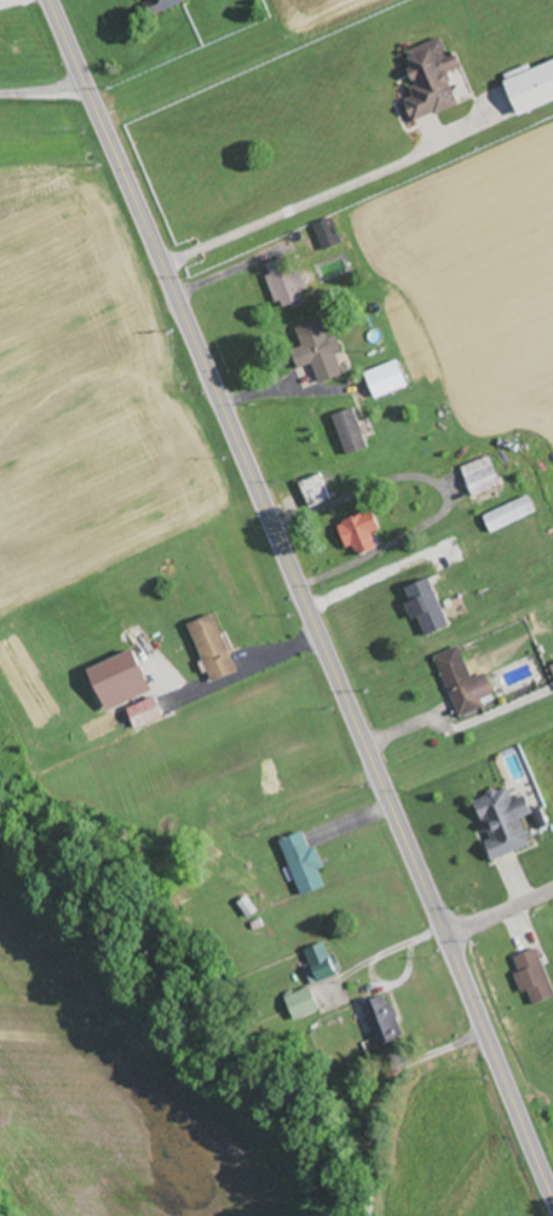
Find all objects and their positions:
building: (165, 4)
building: (437, 79)
building: (532, 87)
road: (53, 126)
road: (300, 206)
building: (287, 281)
building: (317, 351)
building: (387, 379)
building: (351, 431)
building: (482, 476)
building: (315, 491)
building: (509, 515)
building: (363, 533)
road: (303, 597)
building: (214, 648)
building: (466, 682)
building: (146, 712)
building: (508, 820)
road: (500, 912)
building: (323, 960)
building: (305, 1003)
building: (386, 1020)
road: (437, 1021)

